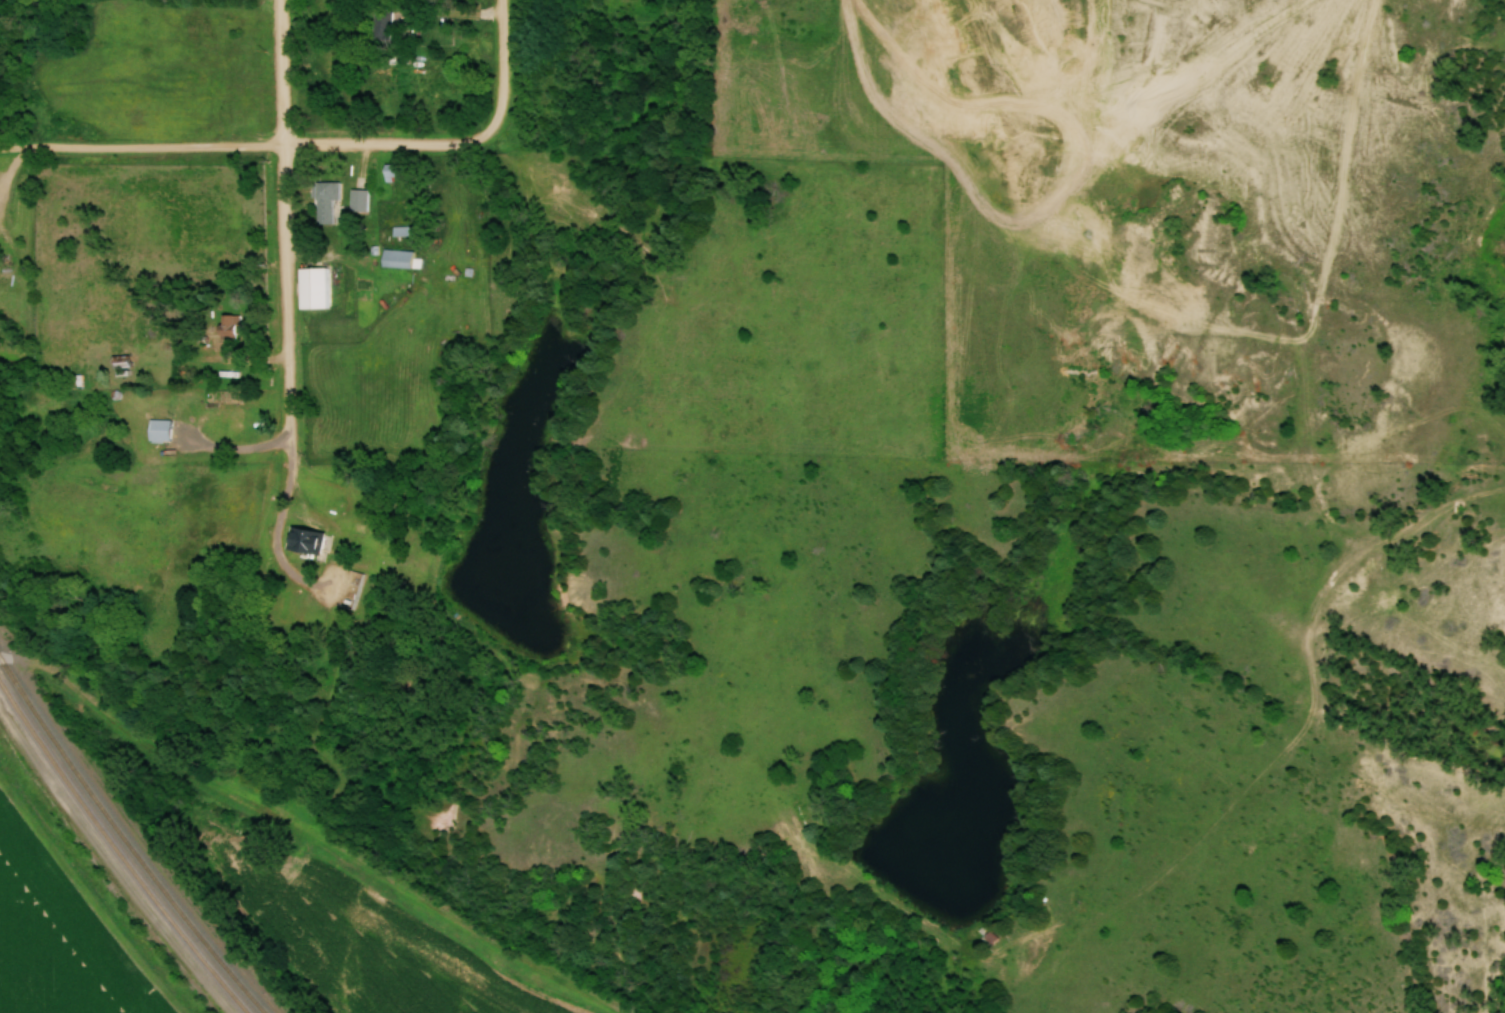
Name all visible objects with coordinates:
building: (380, 26)
road: (500, 41)
road: (269, 141)
building: (390, 172)
building: (357, 200)
building: (324, 201)
road: (286, 245)
building: (398, 259)
building: (312, 283)
building: (228, 327)
building: (119, 361)
building: (225, 417)
building: (158, 430)
building: (304, 540)
railway: (125, 841)
railway: (120, 852)
building: (991, 938)

